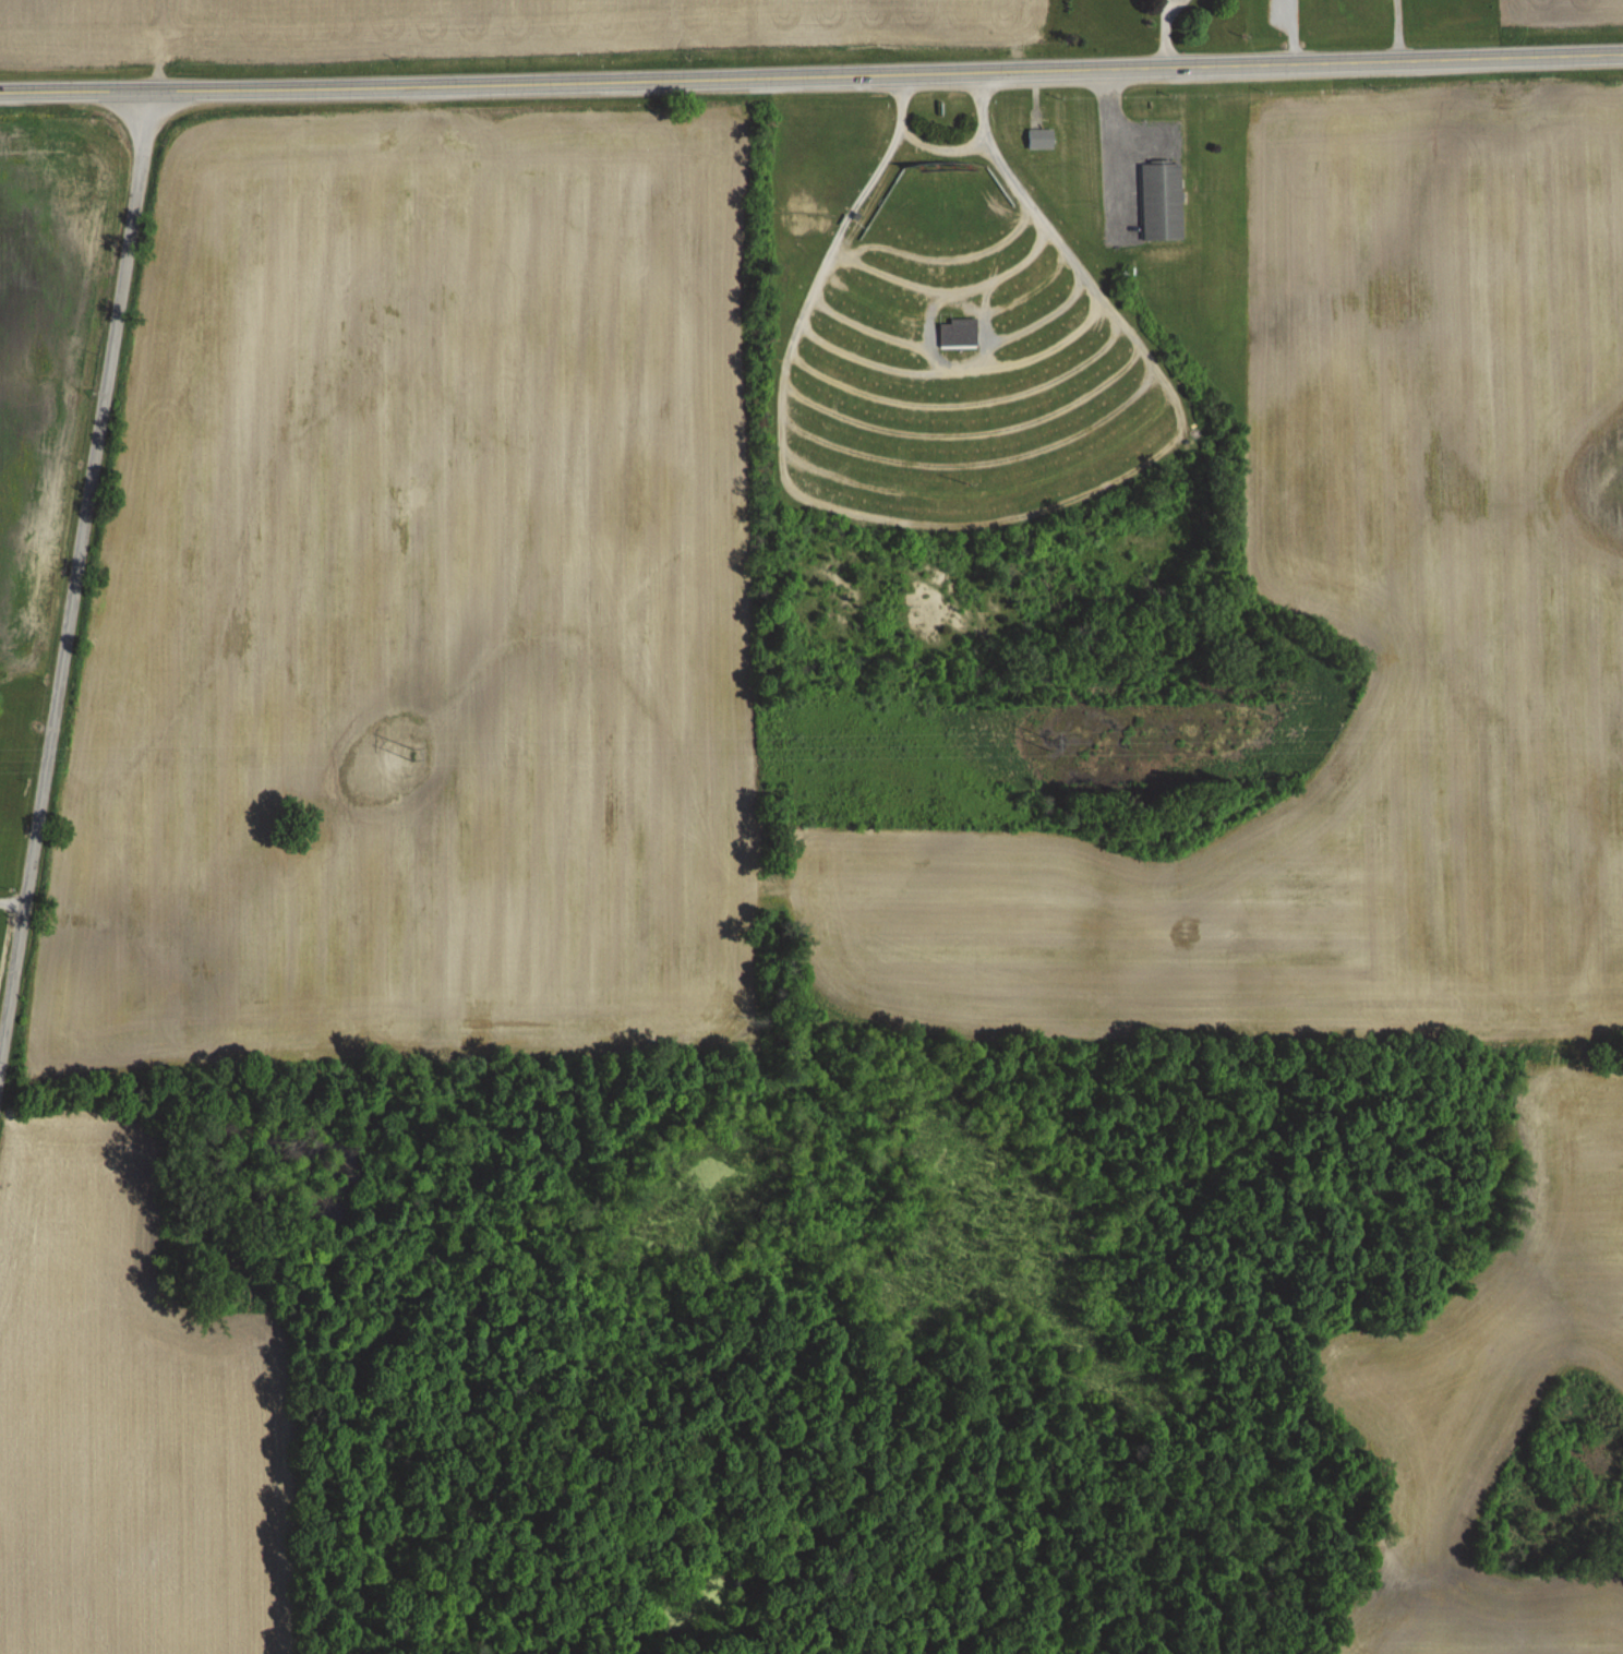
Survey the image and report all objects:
road: (1163, 31)
road: (812, 73)
building: (1039, 137)
road: (943, 151)
building: (1161, 199)
building: (957, 331)
road: (77, 575)

